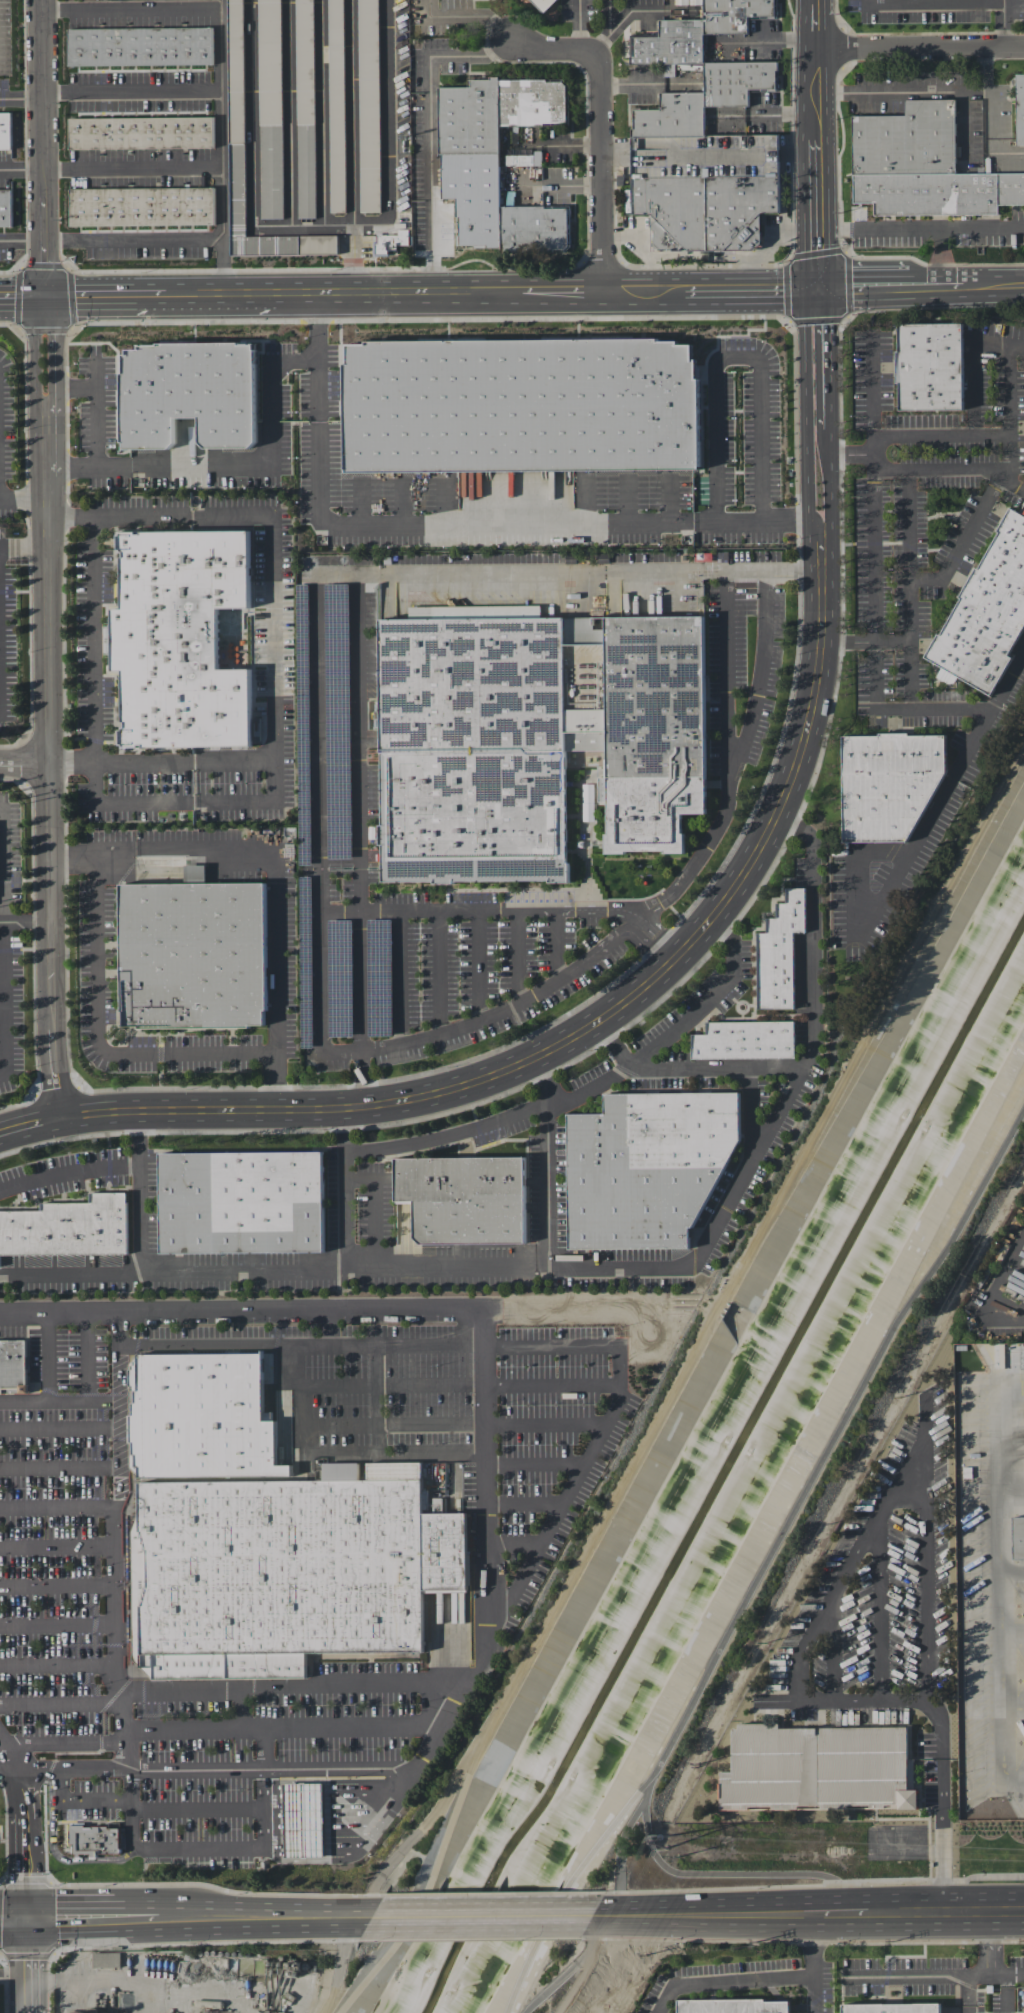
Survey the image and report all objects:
road: (1002, 1)
building: (542, 2)
road: (956, 2)
road: (479, 16)
road: (580, 26)
building: (697, 31)
building: (140, 46)
road: (919, 48)
road: (626, 86)
road: (132, 89)
road: (989, 92)
road: (902, 93)
road: (21, 99)
building: (336, 105)
building: (368, 105)
building: (270, 108)
building: (1019, 108)
building: (304, 109)
road: (351, 110)
road: (816, 114)
building: (236, 117)
road: (221, 123)
building: (4, 124)
road: (600, 124)
building: (141, 132)
road: (429, 135)
road: (576, 144)
road: (1003, 152)
road: (255, 160)
building: (495, 162)
building: (704, 165)
building: (922, 165)
road: (133, 168)
road: (22, 170)
road: (44, 192)
building: (141, 205)
building: (5, 207)
road: (955, 227)
road: (880, 228)
road: (22, 241)
building: (390, 242)
road: (353, 257)
road: (818, 258)
road: (224, 267)
traffic signals: (818, 286)
road: (863, 286)
road: (936, 286)
road: (993, 286)
road: (751, 287)
road: (645, 289)
road: (563, 290)
road: (344, 294)
road: (105, 297)
road: (22, 298)
traffic signals: (45, 298)
road: (316, 328)
road: (737, 358)
road: (296, 362)
building: (929, 366)
road: (806, 369)
road: (827, 380)
road: (874, 390)
building: (189, 393)
road: (96, 400)
building: (521, 405)
road: (975, 430)
road: (992, 437)
road: (219, 464)
road: (88, 466)
road: (938, 468)
road: (1003, 476)
road: (1014, 481)
road: (871, 498)
road: (24, 499)
road: (809, 511)
road: (751, 521)
road: (830, 521)
road: (457, 524)
road: (909, 525)
road: (24, 548)
road: (336, 570)
road: (589, 571)
building: (986, 610)
road: (870, 613)
building: (181, 637)
road: (92, 638)
road: (890, 639)
road: (911, 645)
road: (273, 675)
road: (726, 677)
road: (904, 709)
building: (651, 730)
building: (472, 749)
road: (50, 752)
road: (738, 757)
road: (184, 762)
road: (25, 768)
building: (889, 783)
building: (587, 802)
road: (93, 849)
road: (213, 849)
road: (1, 869)
building: (195, 873)
road: (893, 890)
road: (349, 908)
road: (599, 908)
road: (26, 922)
road: (663, 937)
road: (556, 944)
building: (778, 952)
building: (194, 954)
road: (516, 956)
road: (478, 966)
road: (437, 972)
road: (399, 976)
road: (359, 980)
road: (275, 995)
road: (5, 997)
road: (485, 1019)
road: (96, 1036)
building: (744, 1040)
road: (615, 1042)
road: (563, 1044)
road: (641, 1053)
road: (593, 1090)
road: (447, 1134)
road: (547, 1160)
building: (648, 1166)
road: (67, 1172)
building: (465, 1198)
building: (241, 1202)
building: (68, 1227)
road: (687, 1257)
road: (162, 1269)
road: (70, 1273)
road: (482, 1311)
road: (308, 1343)
road: (570, 1346)
road: (87, 1356)
road: (47, 1357)
building: (13, 1366)
road: (593, 1384)
road: (677, 1386)
road: (59, 1402)
building: (204, 1417)
road: (452, 1424)
road: (60, 1426)
road: (431, 1456)
road: (340, 1457)
road: (535, 1463)
road: (60, 1467)
building: (394, 1470)
building: (340, 1471)
river: (724, 1471)
road: (1011, 1494)
road: (524, 1501)
road: (58, 1507)
building: (1017, 1536)
road: (514, 1541)
road: (57, 1545)
parking lot: (276, 1546)
road: (850, 1557)
road: (766, 1567)
road: (1012, 1569)
building: (289, 1573)
road: (1000, 1579)
road: (115, 1581)
road: (58, 1585)
road: (58, 1624)
road: (1012, 1632)
road: (58, 1664)
road: (291, 1687)
road: (61, 1702)
road: (1013, 1707)
road: (241, 1708)
road: (283, 1727)
road: (62, 1744)
road: (263, 1749)
road: (13, 1754)
building: (817, 1767)
road: (219, 1769)
road: (13, 1771)
road: (302, 1783)
road: (360, 1783)
road: (273, 1784)
road: (358, 1793)
road: (303, 1794)
road: (273, 1795)
road: (81, 1799)
road: (943, 1804)
road: (198, 1808)
road: (264, 1808)
road: (374, 1809)
road: (303, 1810)
road: (274, 1811)
building: (303, 1819)
gas station: (303, 1819)
road: (347, 1825)
road: (274, 1826)
road: (303, 1826)
road: (410, 1839)
building: (94, 1841)
road: (342, 1841)
road: (622, 1841)
power tower: (662, 1841)
road: (303, 1842)
road: (274, 1843)
road: (359, 1843)
road: (28, 1844)
road: (199, 1846)
road: (265, 1850)
road: (55, 1852)
road: (303, 1854)
road: (274, 1855)
road: (730, 1874)
road: (924, 1879)
road: (947, 1913)
road: (844, 1914)
road: (358, 1915)
road: (478, 1915)
road: (684, 1915)
road: (797, 1915)
road: (190, 1916)
road: (15, 1918)
road: (988, 1961)
road: (30, 1965)
road: (342, 1965)
road: (569, 1969)
road: (15, 1971)
road: (914, 1976)
road: (759, 1981)
road: (135, 1985)
road: (1007, 1993)
road: (966, 1994)
road: (814, 1996)
building: (1020, 2002)
building: (732, 2007)
building: (892, 2008)

